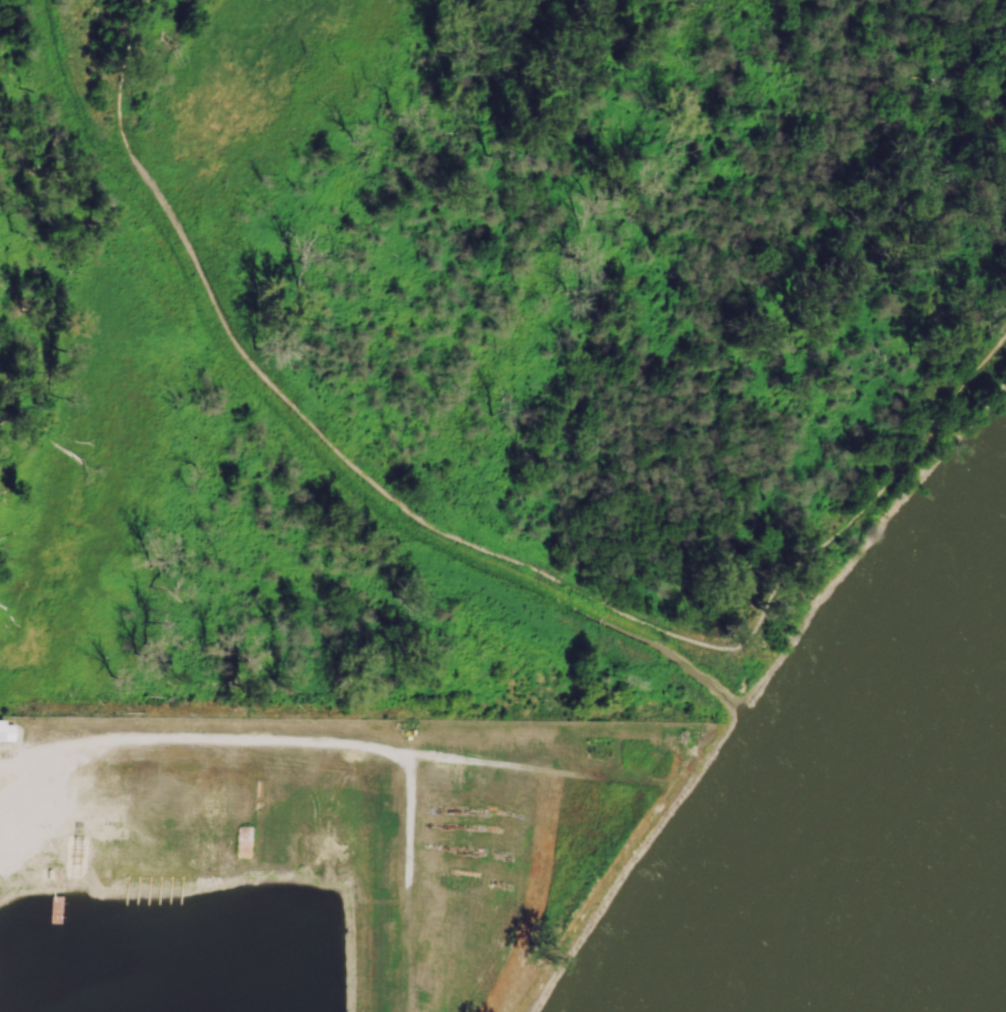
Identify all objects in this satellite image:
park: (477, 344)
road: (479, 547)
building: (4, 730)
road: (226, 738)
road: (31, 761)
road: (488, 763)
road: (31, 796)
road: (405, 880)
river: (905, 888)
building: (175, 1003)

